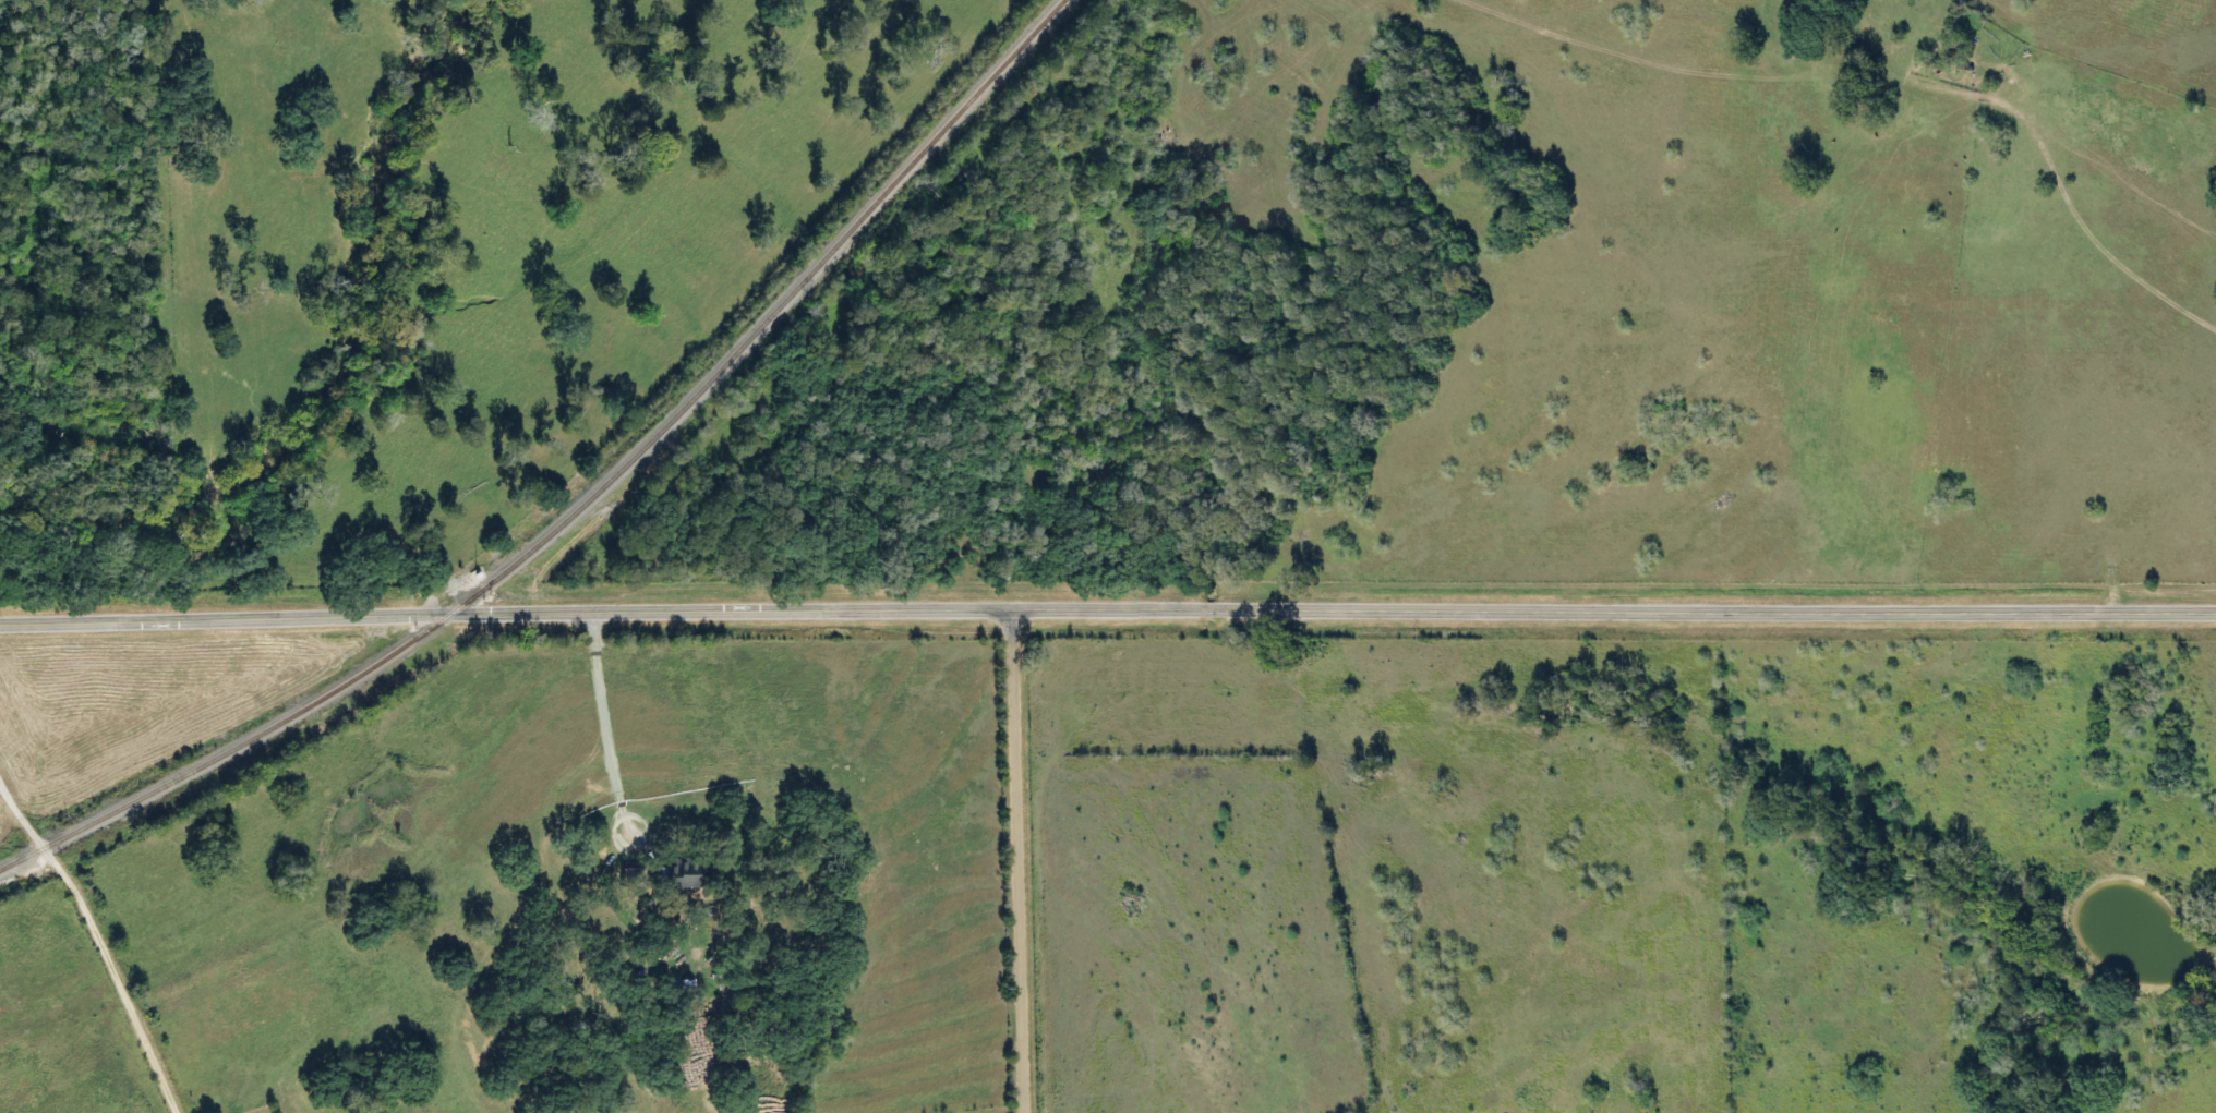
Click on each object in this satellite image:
railway: (587, 503)
road: (1107, 604)
road: (1022, 857)
building: (692, 870)
building: (648, 912)
road: (103, 942)

